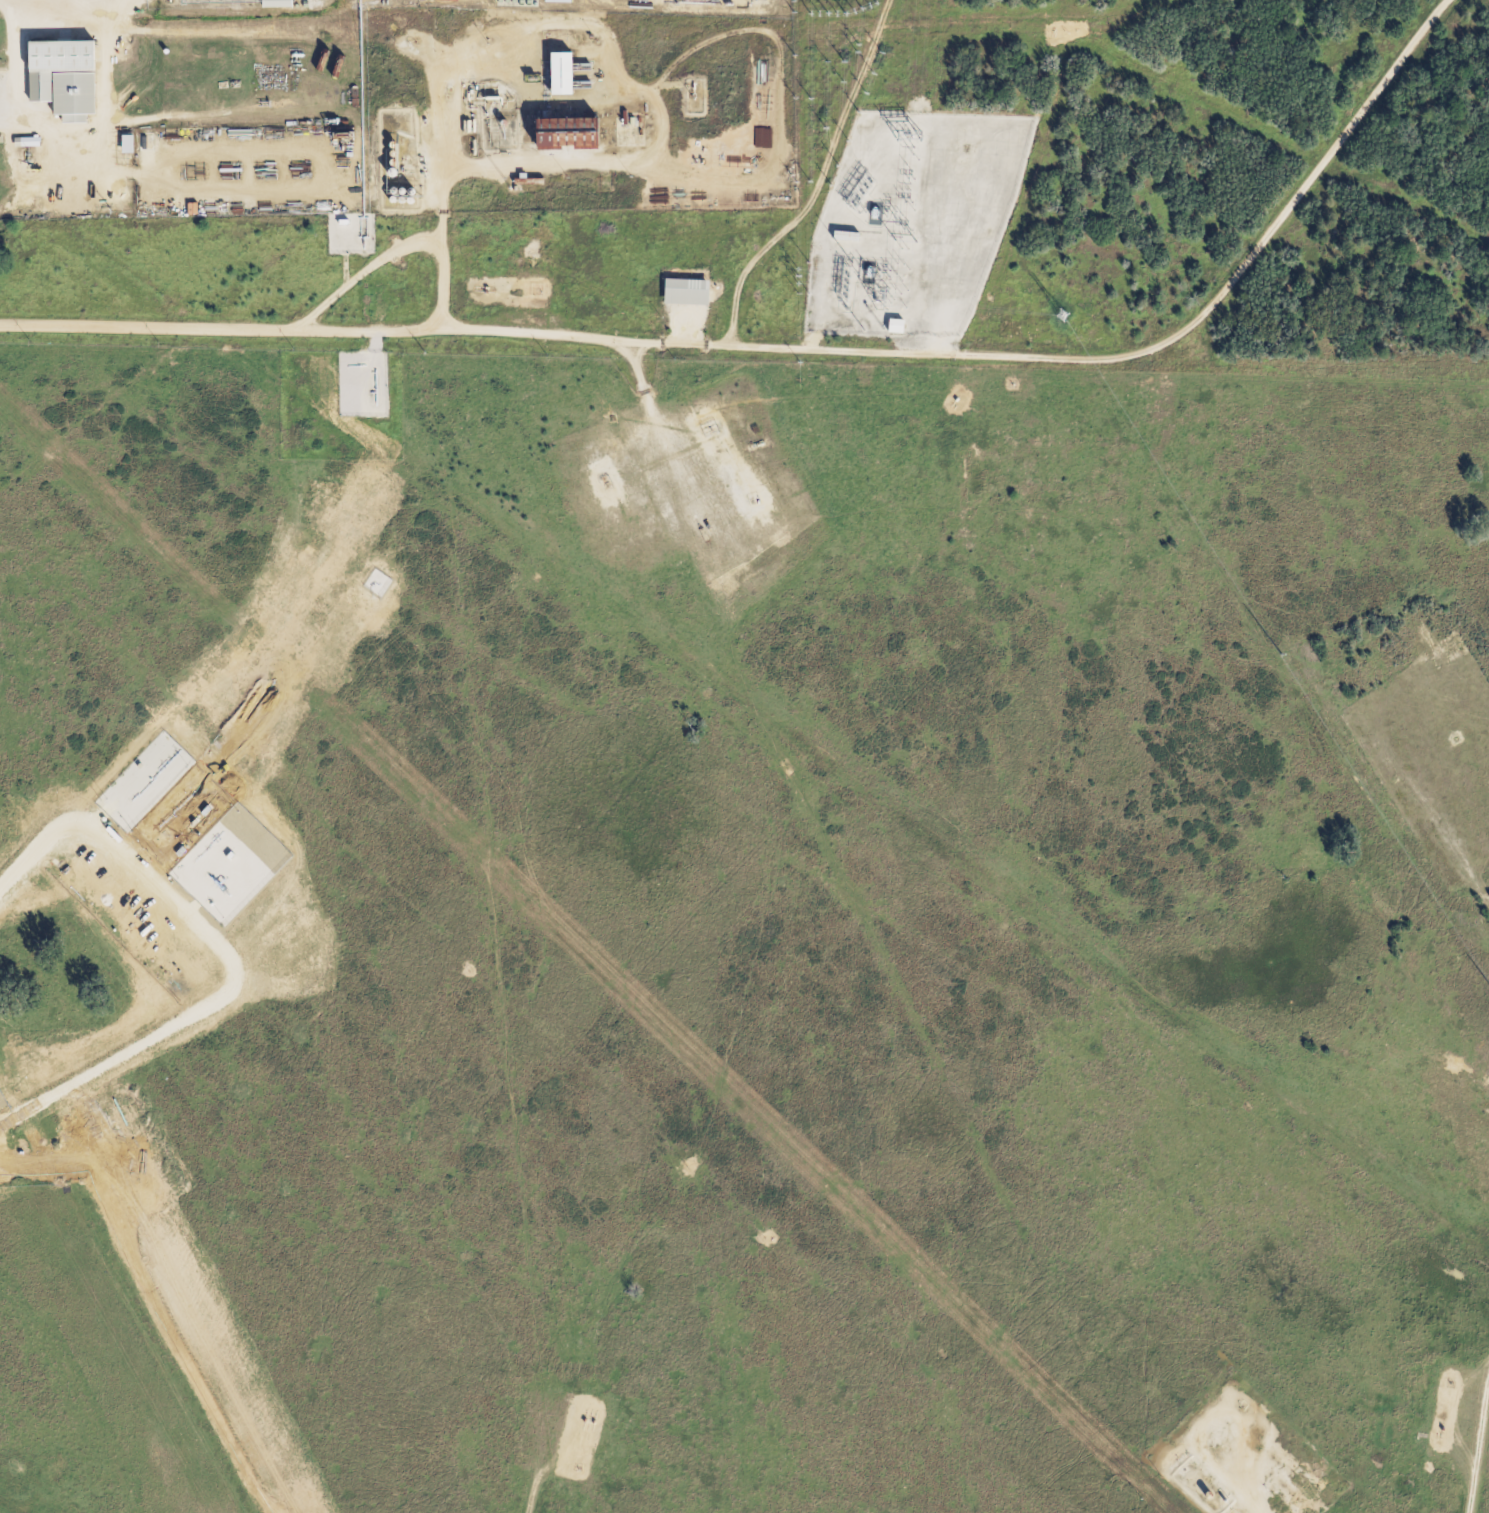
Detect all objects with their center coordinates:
road: (14, 9)
road: (140, 9)
road: (782, 19)
road: (314, 22)
road: (619, 50)
building: (53, 57)
building: (550, 73)
road: (13, 76)
road: (278, 139)
road: (782, 152)
power substation: (912, 221)
building: (677, 292)
power tower: (1060, 313)
road: (809, 351)
road: (1478, 1446)
road: (541, 1460)

